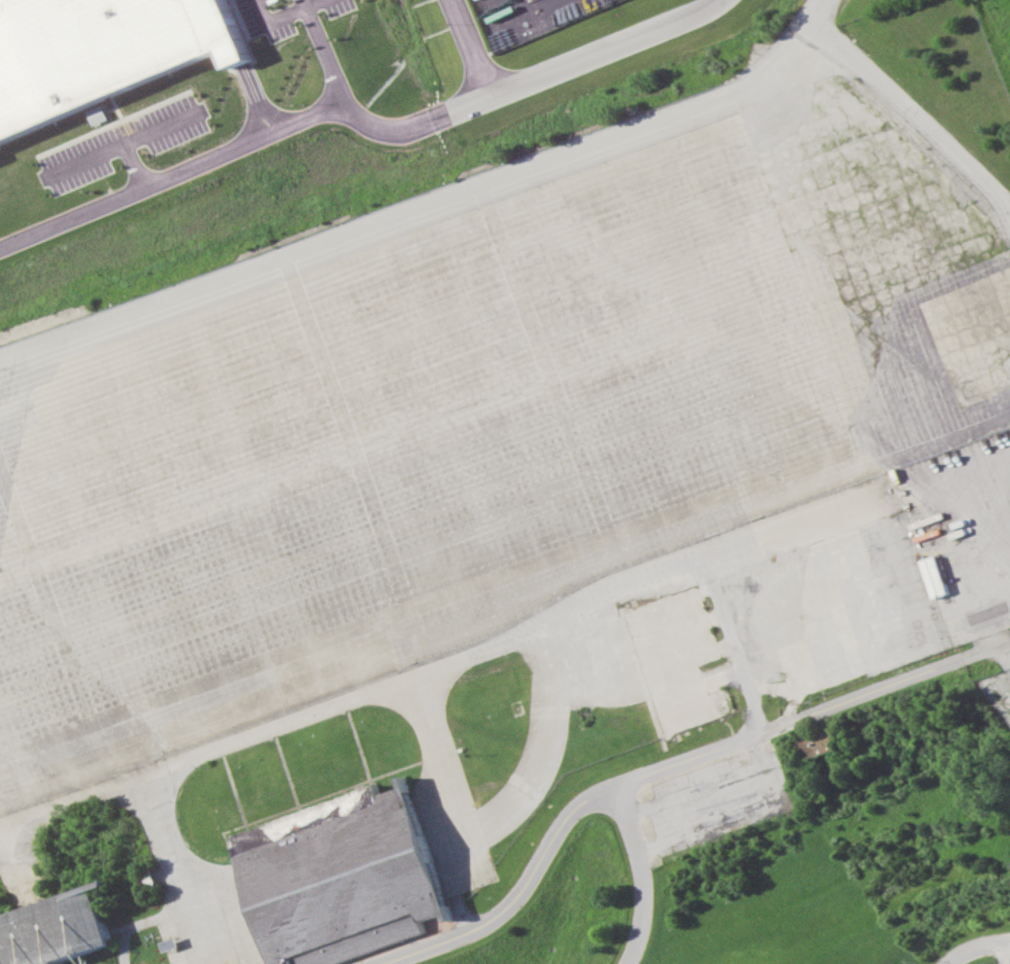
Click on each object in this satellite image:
parking lot: (294, 20)
road: (810, 20)
road: (467, 48)
road: (322, 50)
building: (100, 52)
building: (98, 115)
road: (913, 115)
road: (353, 116)
building: (933, 577)
road: (571, 609)
road: (468, 654)
road: (257, 728)
building: (814, 743)
road: (642, 774)
road: (76, 794)
road: (641, 874)
airport hangar: (343, 876)
building: (343, 876)
building: (148, 878)
airport hangar: (56, 928)
building: (56, 928)
road: (197, 942)
building: (172, 943)
road: (972, 945)

